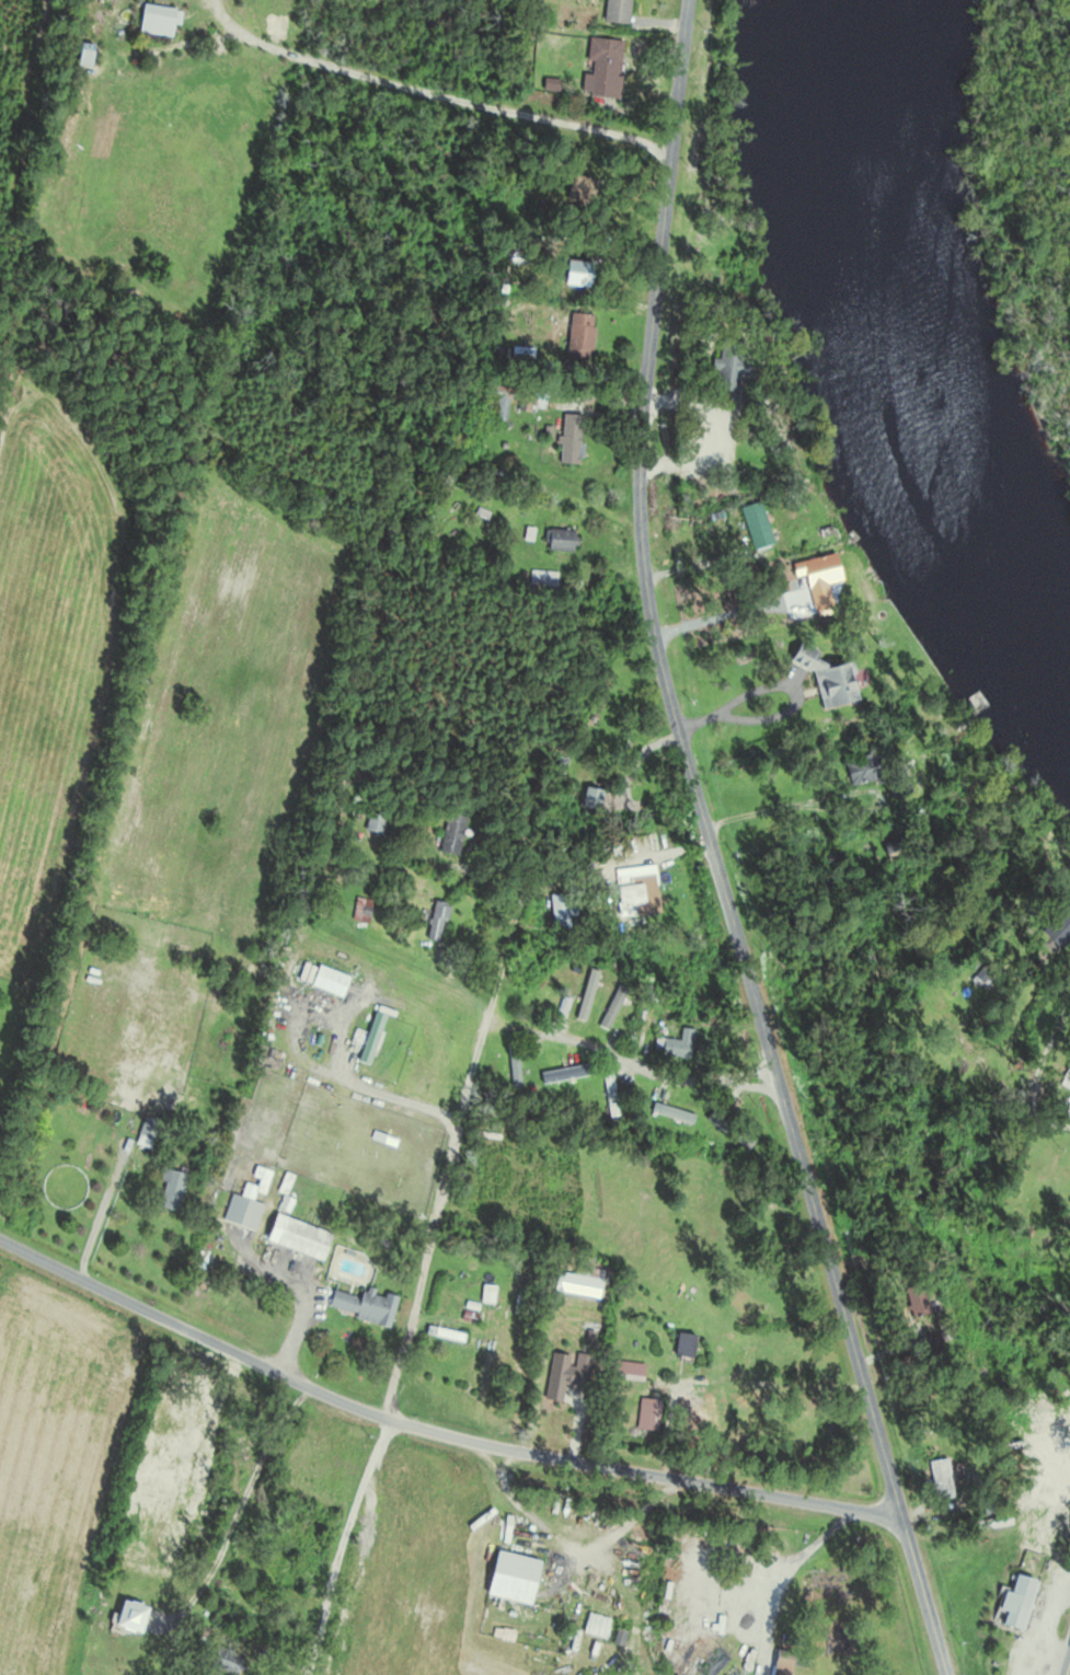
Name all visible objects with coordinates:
building: (613, 12)
building: (161, 19)
building: (90, 54)
building: (601, 69)
road: (434, 93)
building: (572, 274)
building: (578, 338)
river: (896, 358)
building: (727, 368)
road: (326, 372)
building: (497, 406)
building: (569, 440)
building: (751, 521)
building: (559, 541)
road: (695, 563)
building: (542, 579)
building: (816, 580)
road: (728, 613)
road: (783, 684)
building: (877, 773)
building: (589, 800)
building: (372, 823)
building: (450, 835)
road: (711, 847)
building: (360, 911)
building: (556, 912)
building: (435, 923)
building: (1056, 929)
road: (502, 967)
building: (584, 997)
building: (611, 1008)
building: (233, 1017)
road: (629, 1062)
building: (1067, 1068)
building: (608, 1094)
building: (671, 1113)
building: (151, 1128)
building: (540, 1173)
building: (174, 1188)
building: (239, 1210)
road: (99, 1222)
building: (295, 1237)
building: (576, 1287)
building: (364, 1306)
road: (191, 1331)
building: (442, 1335)
building: (564, 1375)
building: (635, 1375)
road: (641, 1472)
building: (939, 1480)
building: (183, 1500)
building: (989, 1524)
road: (338, 1544)
building: (508, 1579)
building: (1014, 1602)
building: (594, 1627)
building: (780, 1662)
road: (1067, 1665)

